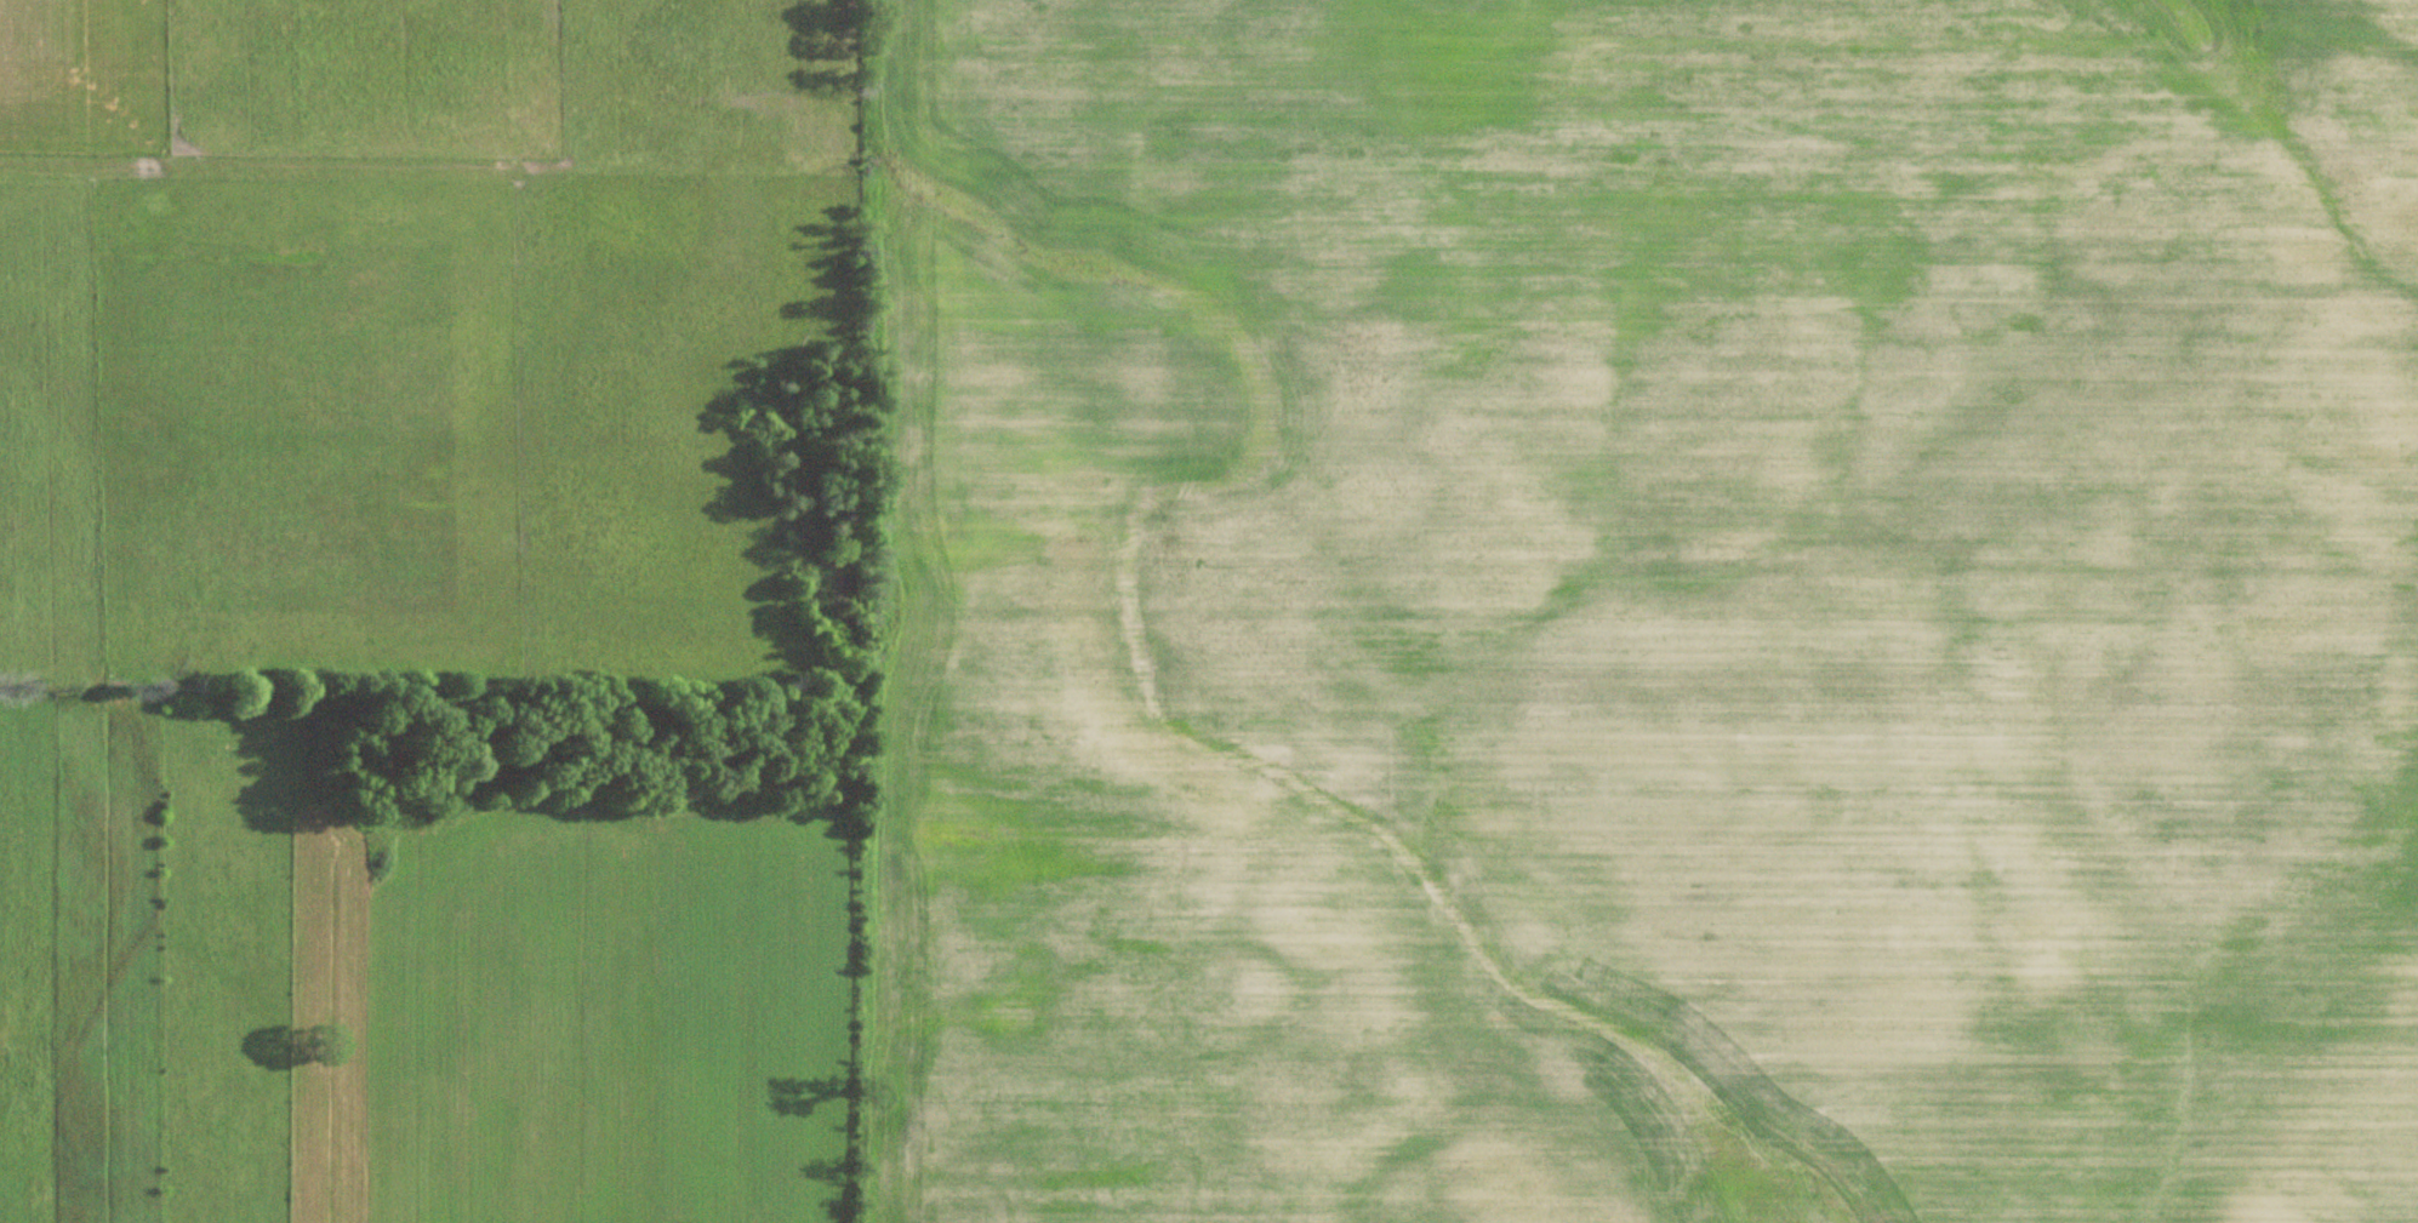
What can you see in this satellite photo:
crop: (1642, 612)

